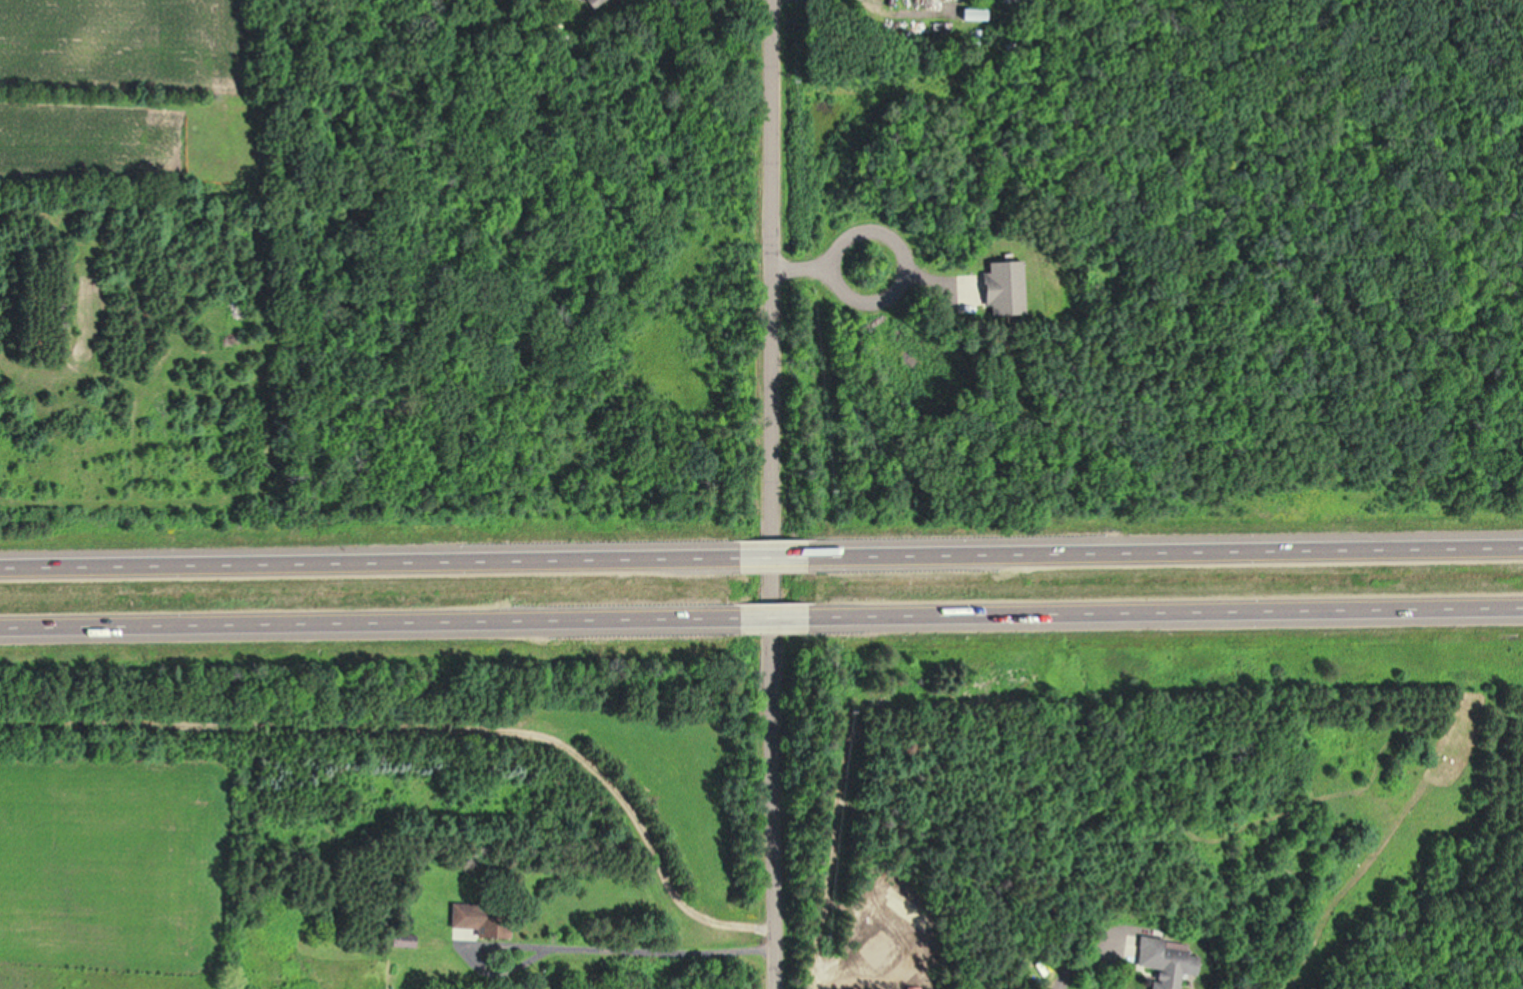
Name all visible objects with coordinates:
building: (590, 4)
crop: (136, 97)
road: (805, 263)
road: (906, 272)
building: (1001, 290)
road: (774, 494)
road: (1164, 550)
road: (769, 555)
road: (366, 560)
road: (1166, 614)
road: (774, 620)
road: (369, 625)
building: (479, 919)
building: (1161, 960)

